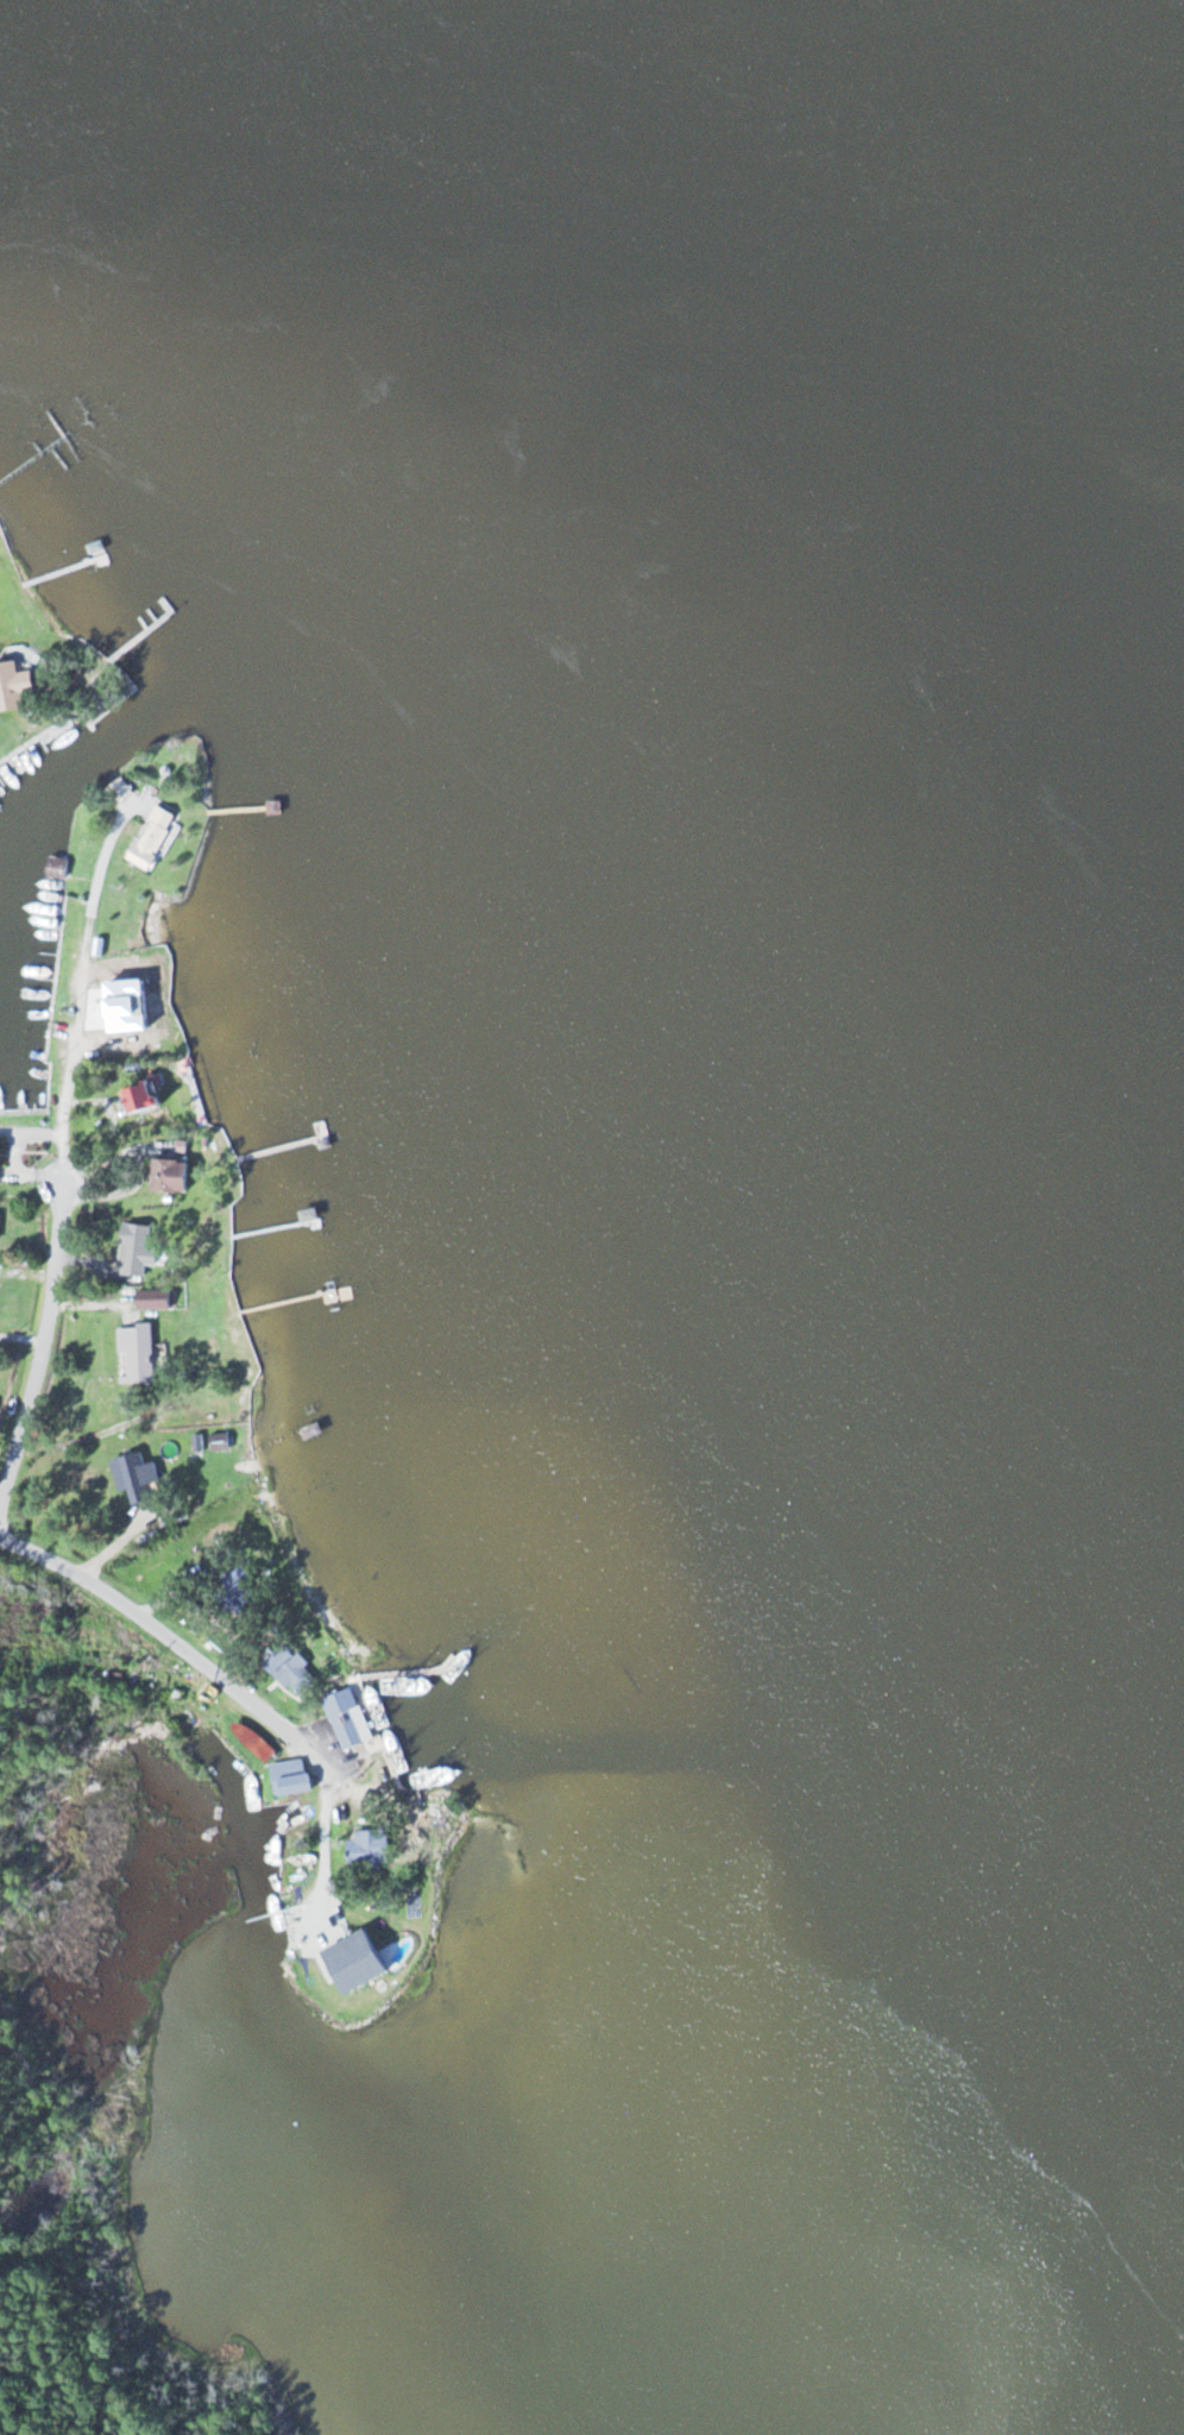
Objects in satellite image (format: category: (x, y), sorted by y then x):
building: (12, 685)
building: (150, 837)
building: (55, 868)
building: (138, 1096)
building: (160, 1176)
building: (133, 1248)
road: (55, 1297)
building: (147, 1300)
building: (134, 1353)
building: (134, 1478)
road: (162, 1636)
building: (284, 1667)
building: (345, 1719)
building: (286, 1778)
building: (365, 1848)

